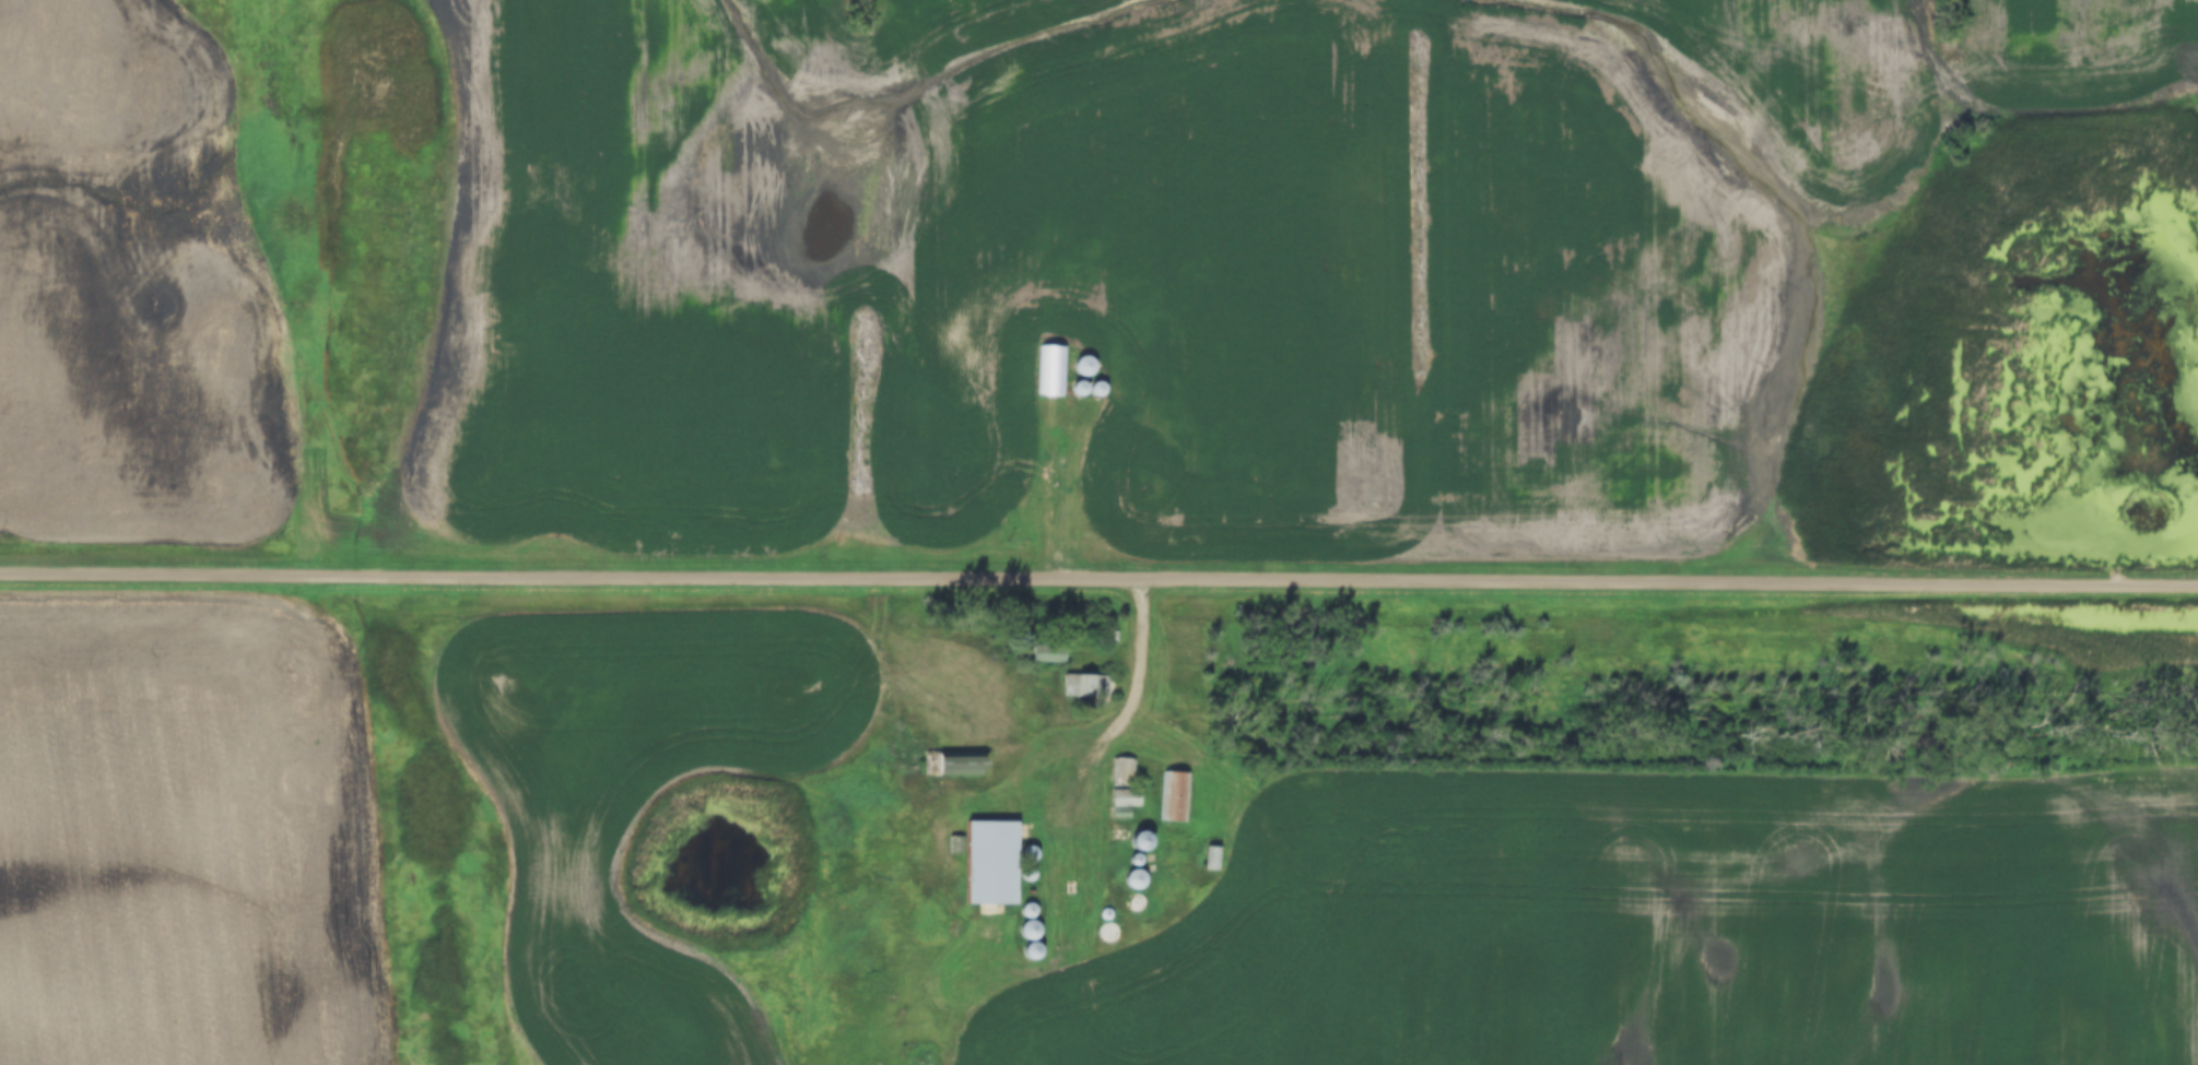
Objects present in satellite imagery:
road: (463, 296)
building: (1050, 370)
road: (1098, 577)
building: (1089, 686)
road: (1136, 693)
building: (1213, 859)
building: (996, 862)

